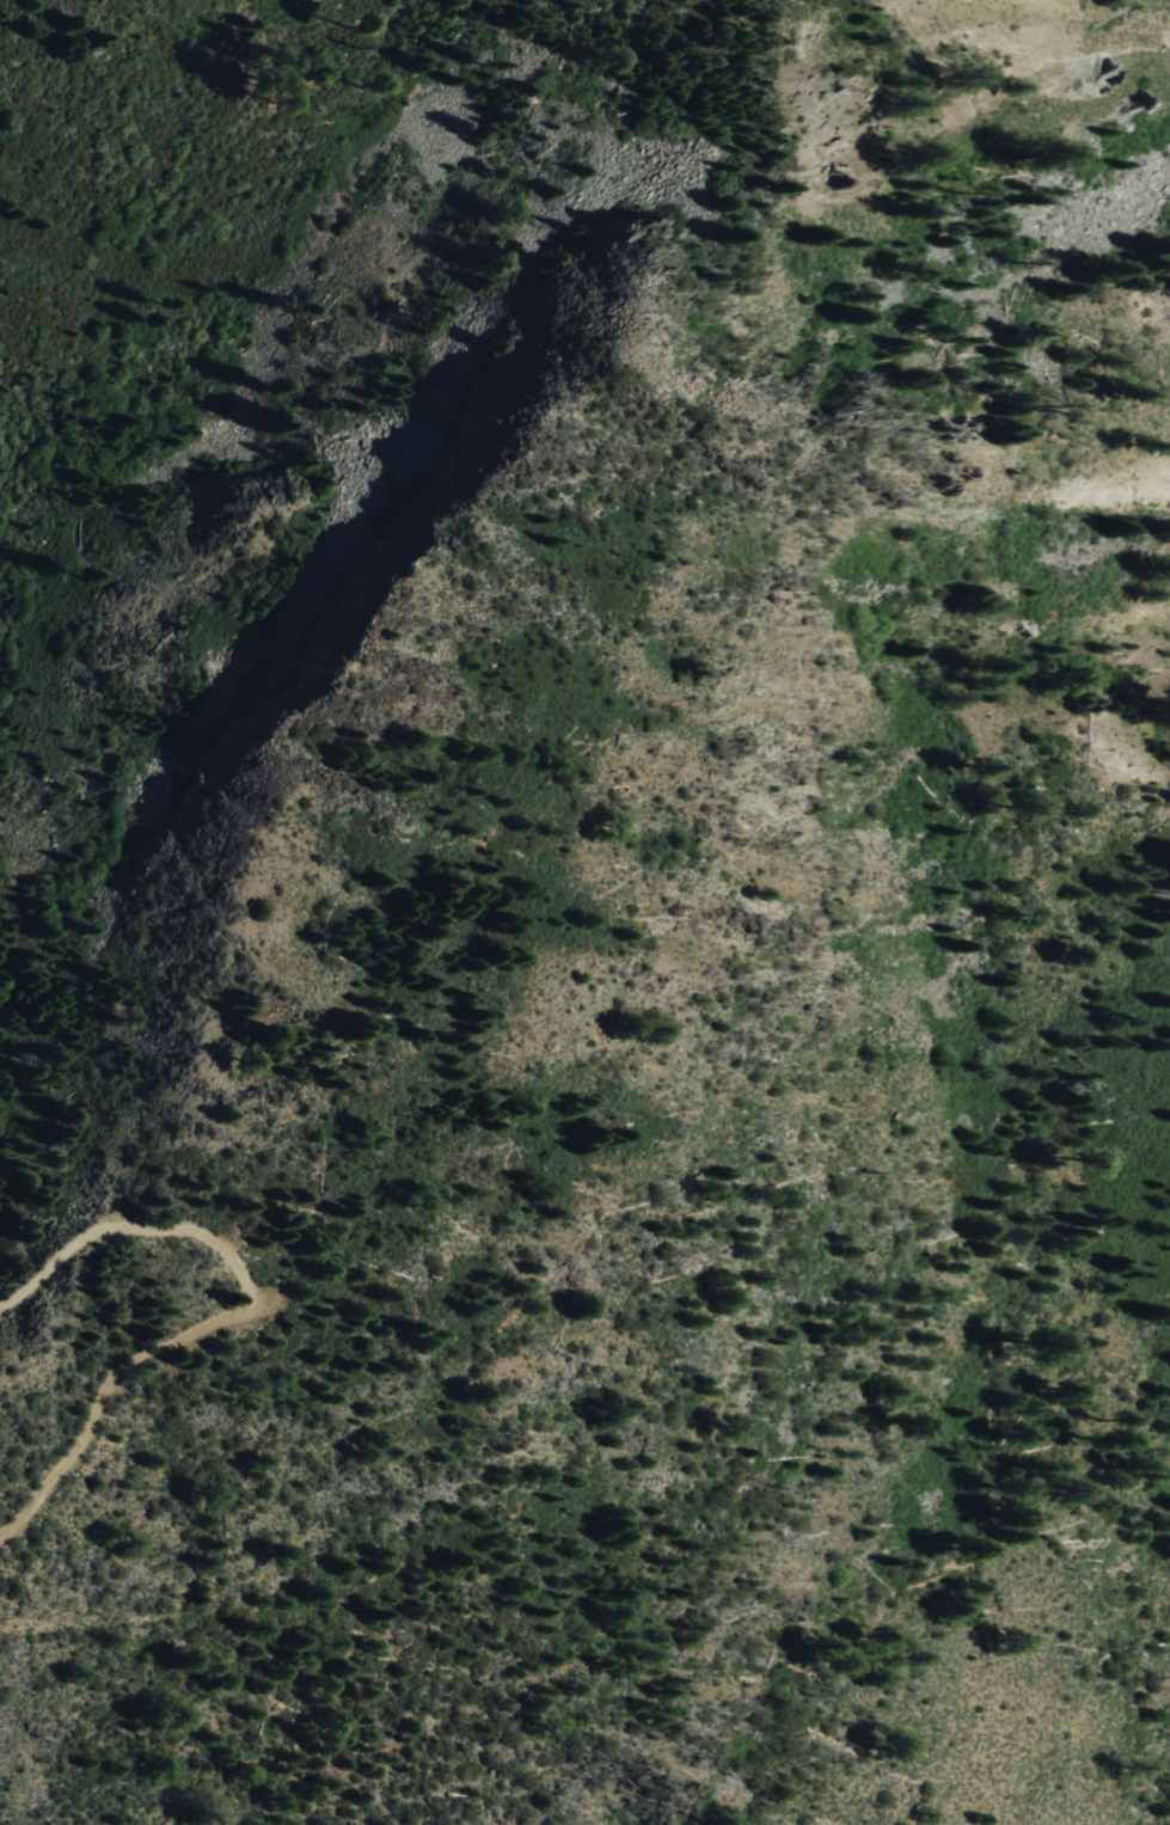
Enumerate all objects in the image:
road: (231, 1311)

